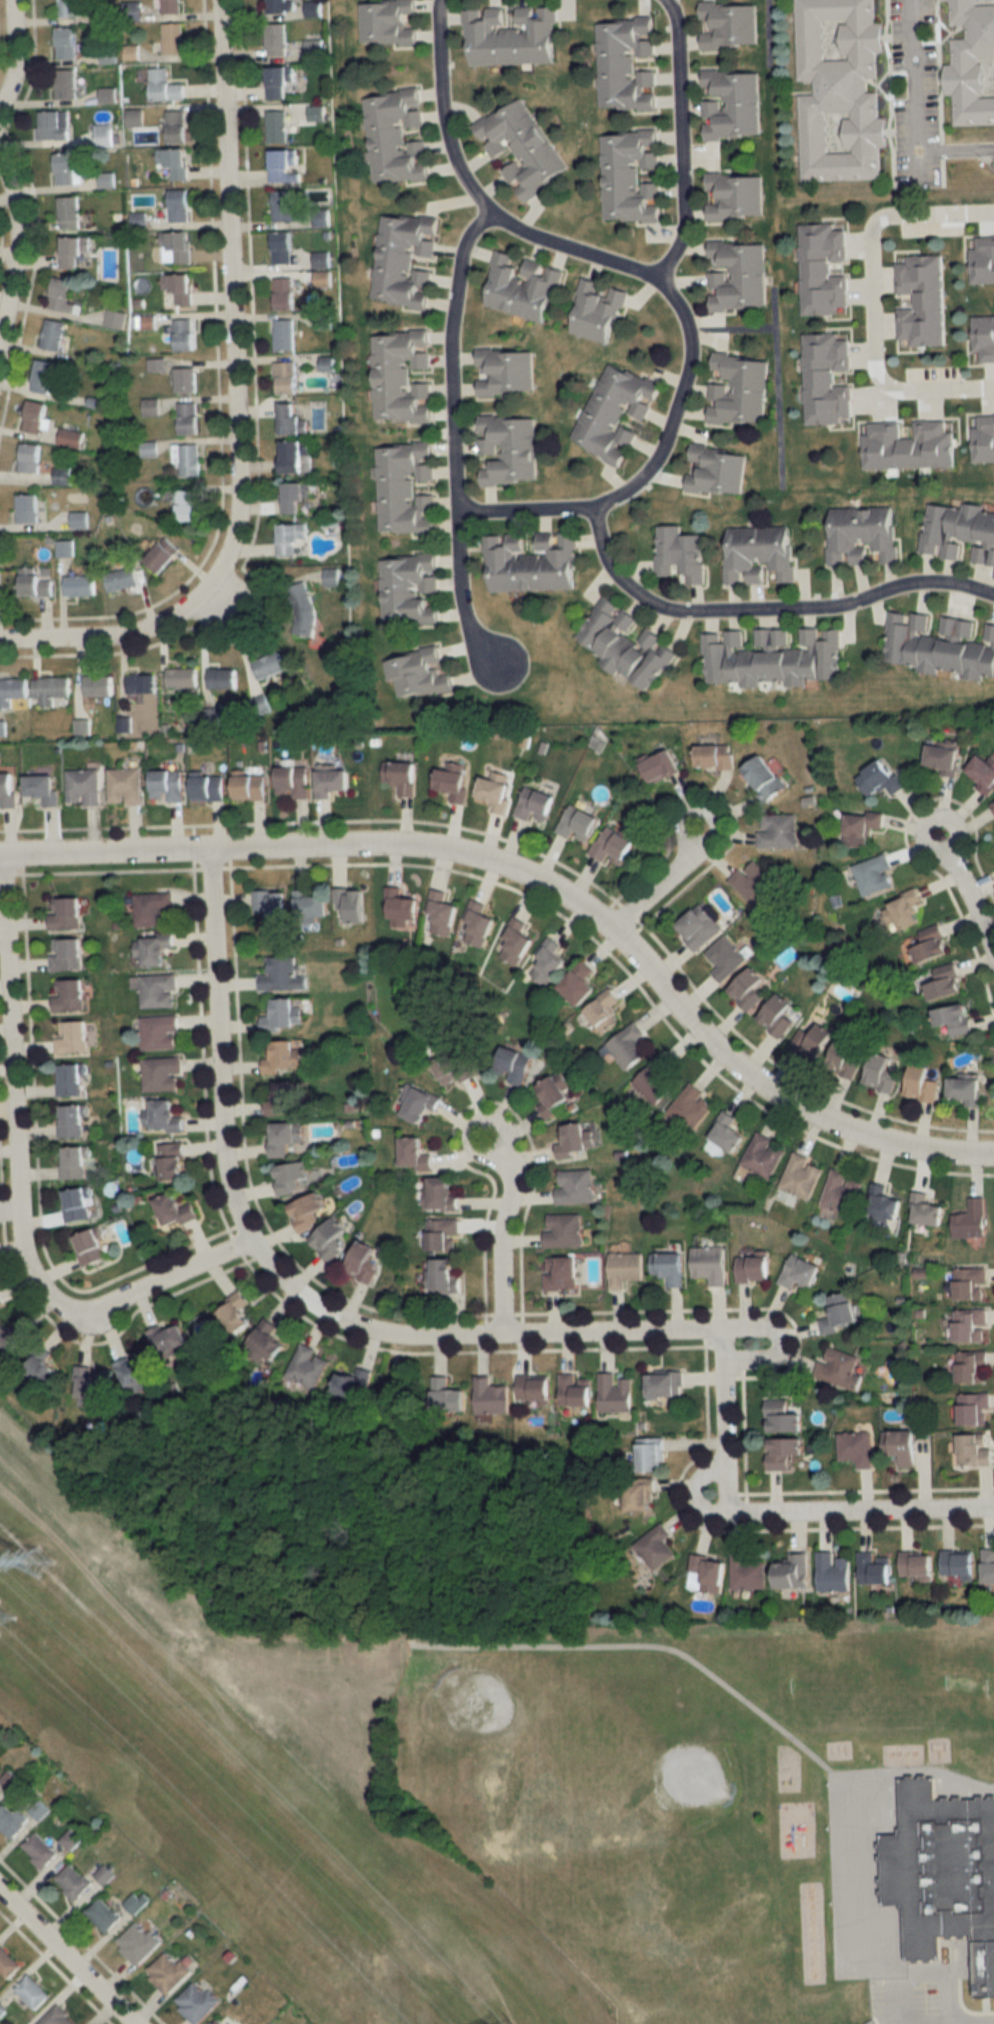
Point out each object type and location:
building: (171, 6)
building: (280, 6)
building: (72, 8)
building: (388, 21)
building: (728, 24)
building: (510, 36)
building: (172, 38)
building: (277, 39)
building: (65, 42)
road: (13, 51)
building: (972, 62)
building: (626, 63)
building: (280, 81)
building: (65, 83)
building: (164, 85)
building: (839, 89)
building: (731, 104)
road: (916, 113)
building: (134, 117)
building: (53, 124)
building: (176, 125)
building: (276, 125)
building: (102, 134)
building: (395, 136)
road: (678, 140)
building: (520, 146)
building: (174, 161)
building: (284, 165)
road: (919, 167)
building: (66, 169)
building: (629, 176)
building: (106, 180)
building: (734, 196)
building: (179, 205)
building: (283, 205)
building: (69, 212)
building: (176, 247)
building: (282, 247)
road: (16, 248)
building: (73, 250)
building: (321, 259)
building: (403, 260)
building: (983, 261)
building: (823, 269)
building: (737, 275)
building: (322, 278)
road: (658, 278)
building: (521, 286)
building: (180, 289)
building: (284, 293)
building: (62, 295)
road: (870, 300)
building: (921, 300)
building: (597, 311)
building: (114, 318)
building: (52, 334)
building: (183, 334)
building: (284, 335)
building: (984, 338)
building: (505, 370)
building: (43, 375)
building: (401, 376)
building: (285, 377)
building: (827, 378)
building: (186, 379)
building: (738, 390)
building: (150, 406)
road: (233, 409)
building: (616, 412)
building: (34, 416)
building: (188, 418)
building: (292, 418)
building: (70, 437)
building: (984, 439)
road: (450, 441)
building: (910, 446)
building: (508, 449)
building: (295, 456)
building: (29, 457)
building: (187, 458)
building: (716, 470)
building: (62, 476)
building: (405, 488)
building: (295, 496)
building: (185, 506)
building: (27, 508)
building: (78, 520)
building: (959, 531)
building: (862, 536)
building: (292, 539)
building: (64, 548)
building: (161, 555)
building: (680, 555)
building: (759, 555)
building: (531, 562)
building: (121, 579)
building: (34, 583)
building: (79, 585)
building: (409, 589)
road: (764, 608)
building: (302, 609)
building: (625, 644)
building: (938, 644)
building: (772, 657)
building: (269, 665)
building: (418, 674)
building: (181, 677)
building: (222, 678)
building: (141, 683)
building: (98, 685)
building: (50, 689)
building: (13, 691)
building: (716, 757)
building: (943, 759)
building: (661, 766)
building: (983, 772)
building: (401, 777)
building: (765, 778)
building: (881, 778)
building: (293, 781)
building: (333, 782)
building: (454, 782)
building: (125, 785)
building: (167, 785)
building: (83, 786)
building: (250, 786)
building: (208, 787)
building: (43, 788)
building: (8, 789)
building: (496, 790)
building: (536, 804)
building: (993, 804)
building: (578, 823)
building: (862, 829)
building: (778, 830)
building: (613, 846)
building: (874, 874)
road: (661, 879)
building: (754, 881)
road: (540, 884)
road: (967, 901)
building: (350, 905)
building: (273, 906)
building: (312, 906)
building: (153, 909)
building: (904, 909)
building: (402, 910)
building: (443, 912)
building: (65, 913)
building: (479, 923)
building: (699, 927)
building: (517, 941)
building: (929, 944)
building: (155, 949)
building: (66, 954)
building: (726, 958)
building: (549, 962)
building: (281, 975)
building: (946, 982)
building: (580, 985)
building: (749, 989)
building: (156, 990)
building: (69, 995)
building: (604, 1011)
building: (283, 1016)
building: (780, 1016)
building: (956, 1019)
building: (160, 1033)
building: (72, 1037)
building: (813, 1041)
building: (629, 1046)
building: (284, 1057)
building: (847, 1057)
building: (514, 1065)
building: (455, 1066)
building: (882, 1073)
building: (162, 1074)
building: (70, 1080)
building: (656, 1082)
building: (923, 1084)
building: (966, 1089)
building: (556, 1094)
building: (286, 1099)
building: (421, 1106)
building: (691, 1107)
building: (162, 1117)
building: (72, 1121)
building: (727, 1132)
building: (286, 1137)
building: (574, 1140)
building: (415, 1155)
building: (763, 1156)
building: (172, 1162)
building: (75, 1163)
building: (801, 1176)
building: (292, 1177)
building: (575, 1186)
road: (16, 1188)
building: (842, 1193)
building: (441, 1195)
building: (78, 1204)
building: (884, 1204)
building: (926, 1210)
building: (175, 1211)
building: (308, 1212)
building: (972, 1220)
building: (562, 1230)
road: (498, 1233)
building: (441, 1234)
building: (330, 1240)
building: (90, 1248)
building: (363, 1263)
building: (711, 1264)
building: (669, 1268)
building: (625, 1269)
building: (754, 1270)
building: (561, 1274)
building: (801, 1274)
building: (447, 1276)
building: (970, 1283)
building: (0, 1302)
building: (841, 1313)
building: (236, 1315)
building: (971, 1326)
road: (775, 1333)
road: (487, 1336)
building: (11, 1338)
building: (267, 1341)
building: (169, 1344)
building: (307, 1367)
building: (973, 1367)
building: (839, 1369)
building: (136, 1373)
building: (39, 1374)
building: (354, 1385)
building: (665, 1387)
building: (92, 1388)
building: (534, 1389)
building: (575, 1391)
building: (615, 1395)
building: (447, 1397)
building: (491, 1398)
building: (974, 1410)
building: (783, 1418)
building: (902, 1448)
building: (857, 1449)
building: (975, 1450)
building: (784, 1453)
building: (651, 1455)
building: (640, 1496)
building: (655, 1548)
power tower: (45, 1559)
building: (958, 1563)
building: (917, 1566)
building: (989, 1566)
building: (874, 1569)
building: (793, 1572)
building: (833, 1572)
building: (747, 1573)
building: (707, 1574)
power tower: (8, 1613)
road: (489, 1644)
building: (12, 1821)
road: (852, 1826)
building: (69, 1840)
building: (39, 1850)
building: (943, 1873)
building: (104, 1875)
building: (72, 1882)
building: (133, 1903)
building: (102, 1914)
building: (137, 1943)
road: (67, 1957)
building: (7, 1963)
building: (168, 1973)
road: (906, 1982)
building: (32, 1991)
building: (197, 2003)
building: (57, 2017)
road: (973, 2018)
building: (218, 2022)

